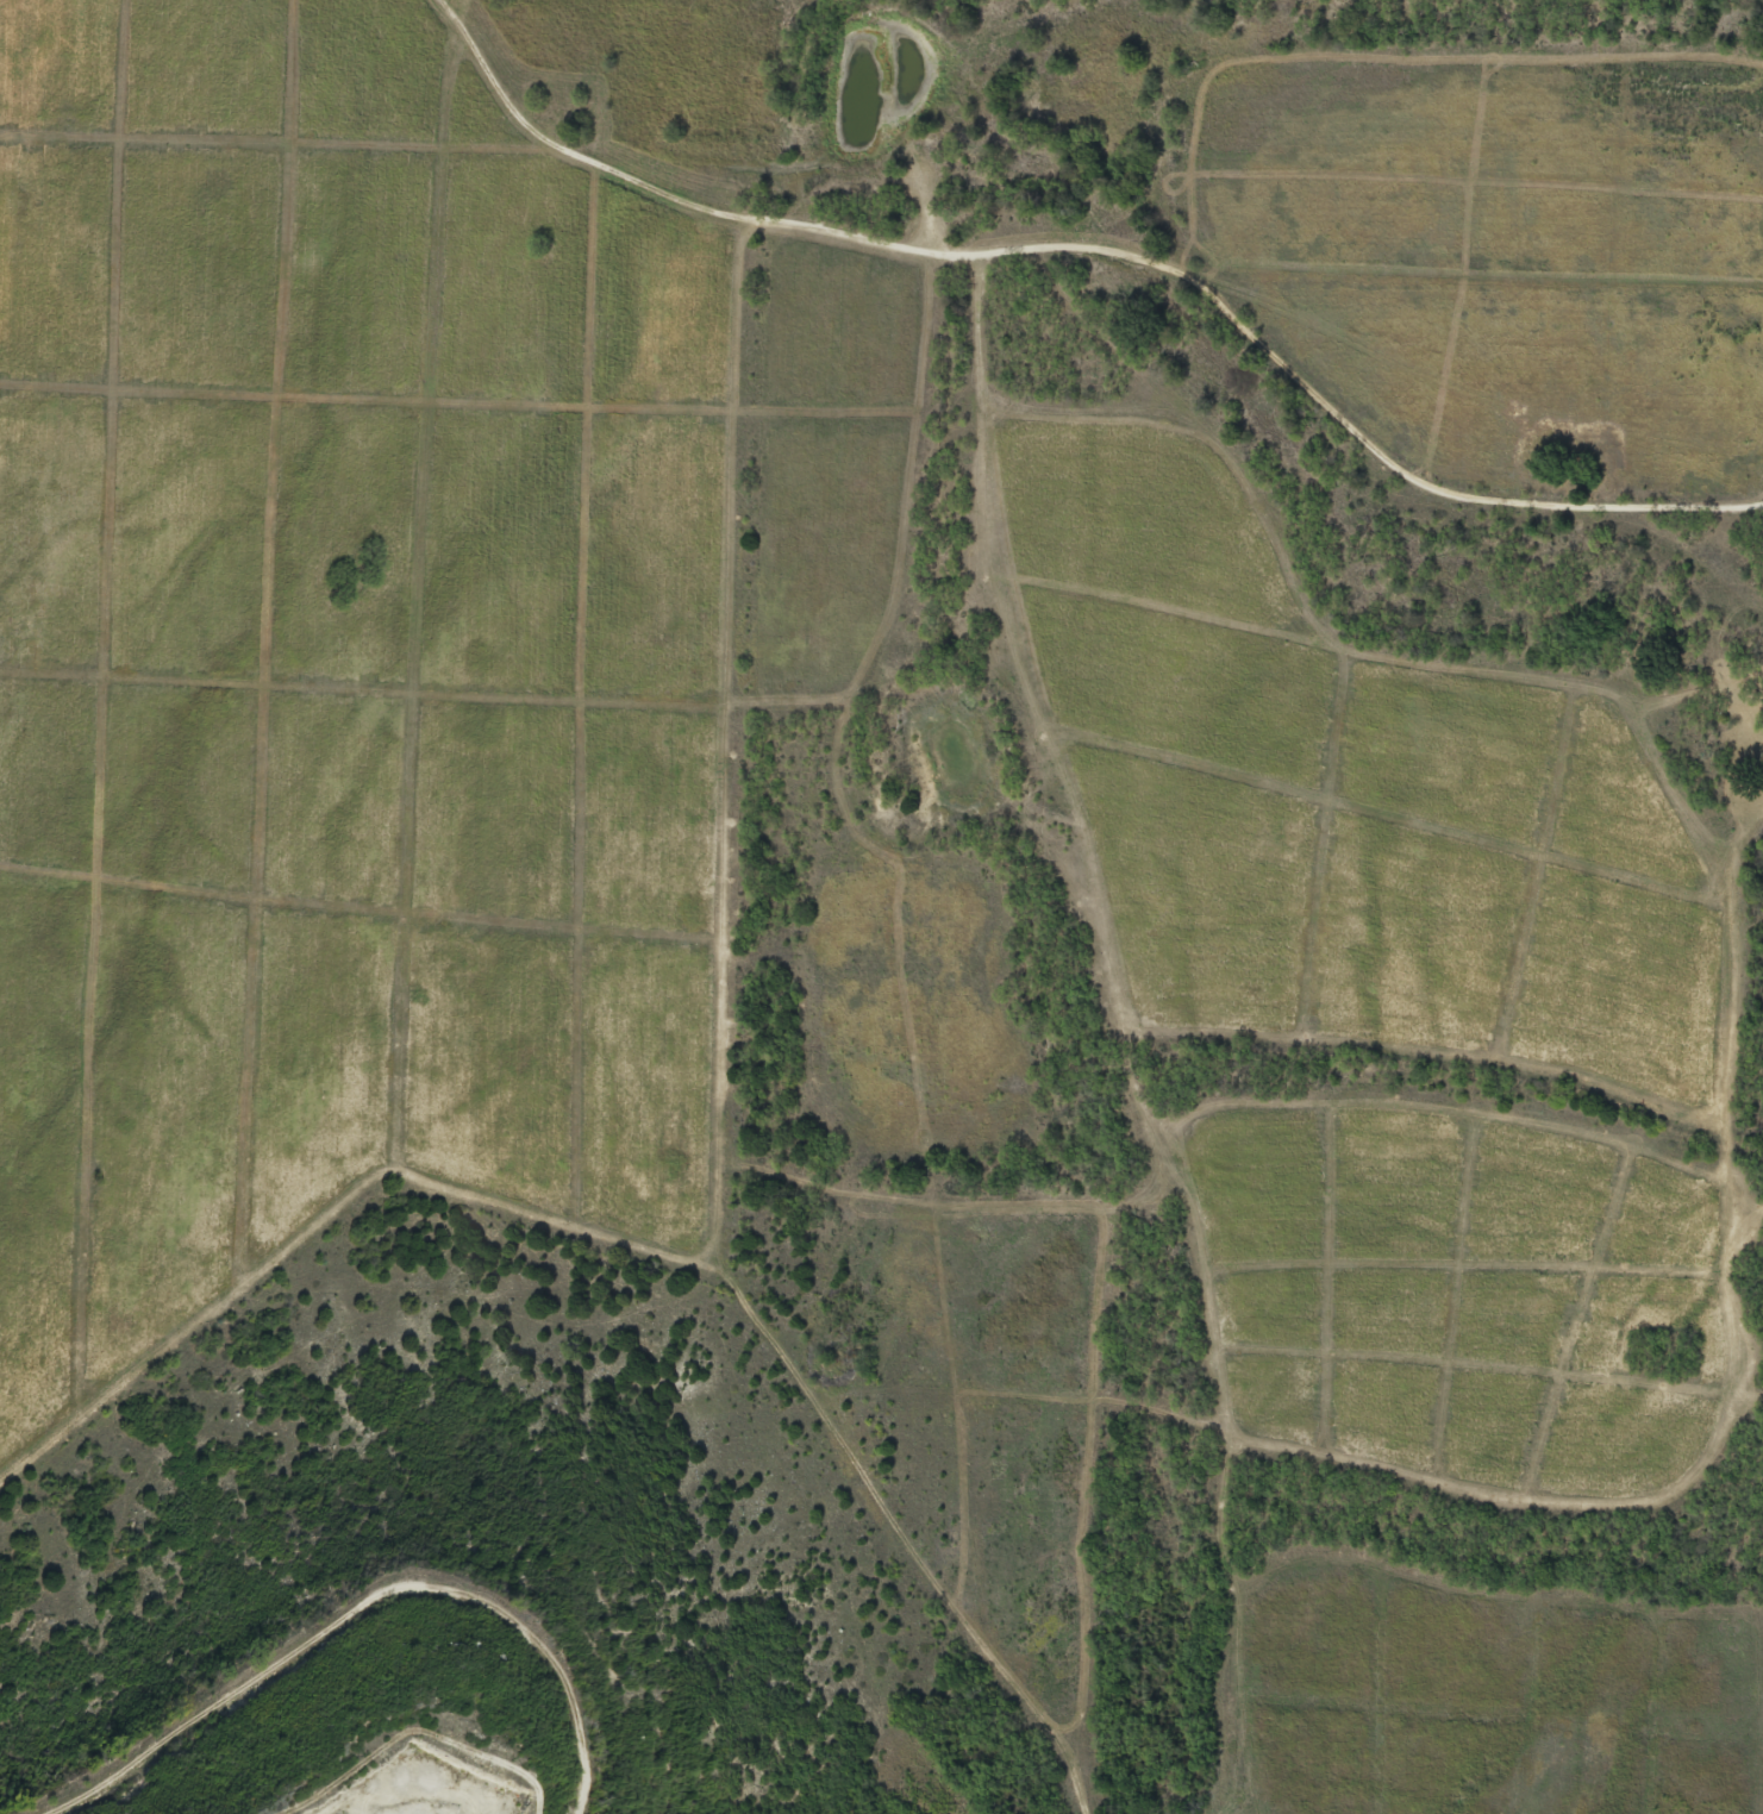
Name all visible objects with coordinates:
road: (329, 1620)

